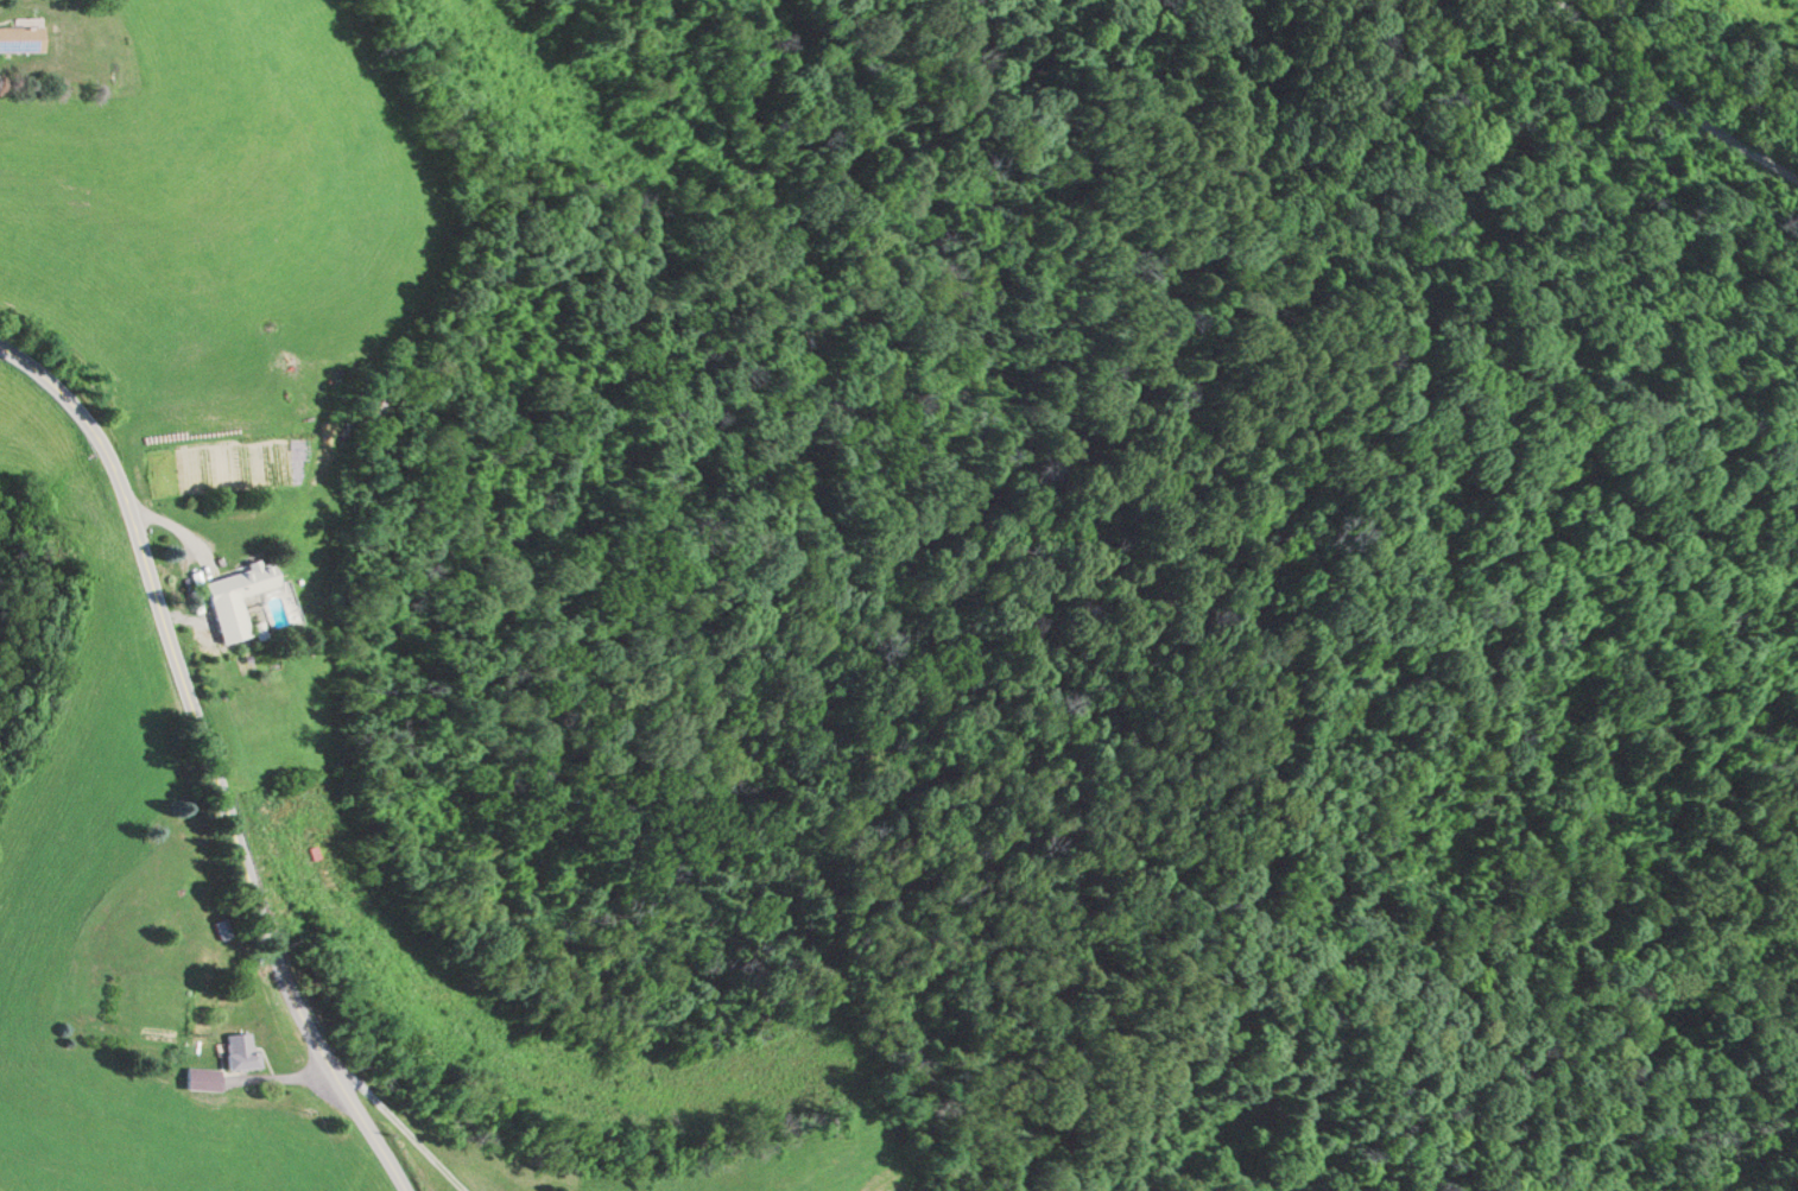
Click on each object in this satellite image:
building: (20, 37)
road: (1672, 101)
building: (240, 584)
road: (190, 692)
building: (239, 1050)
building: (200, 1077)
road: (407, 1132)
road: (378, 1133)

